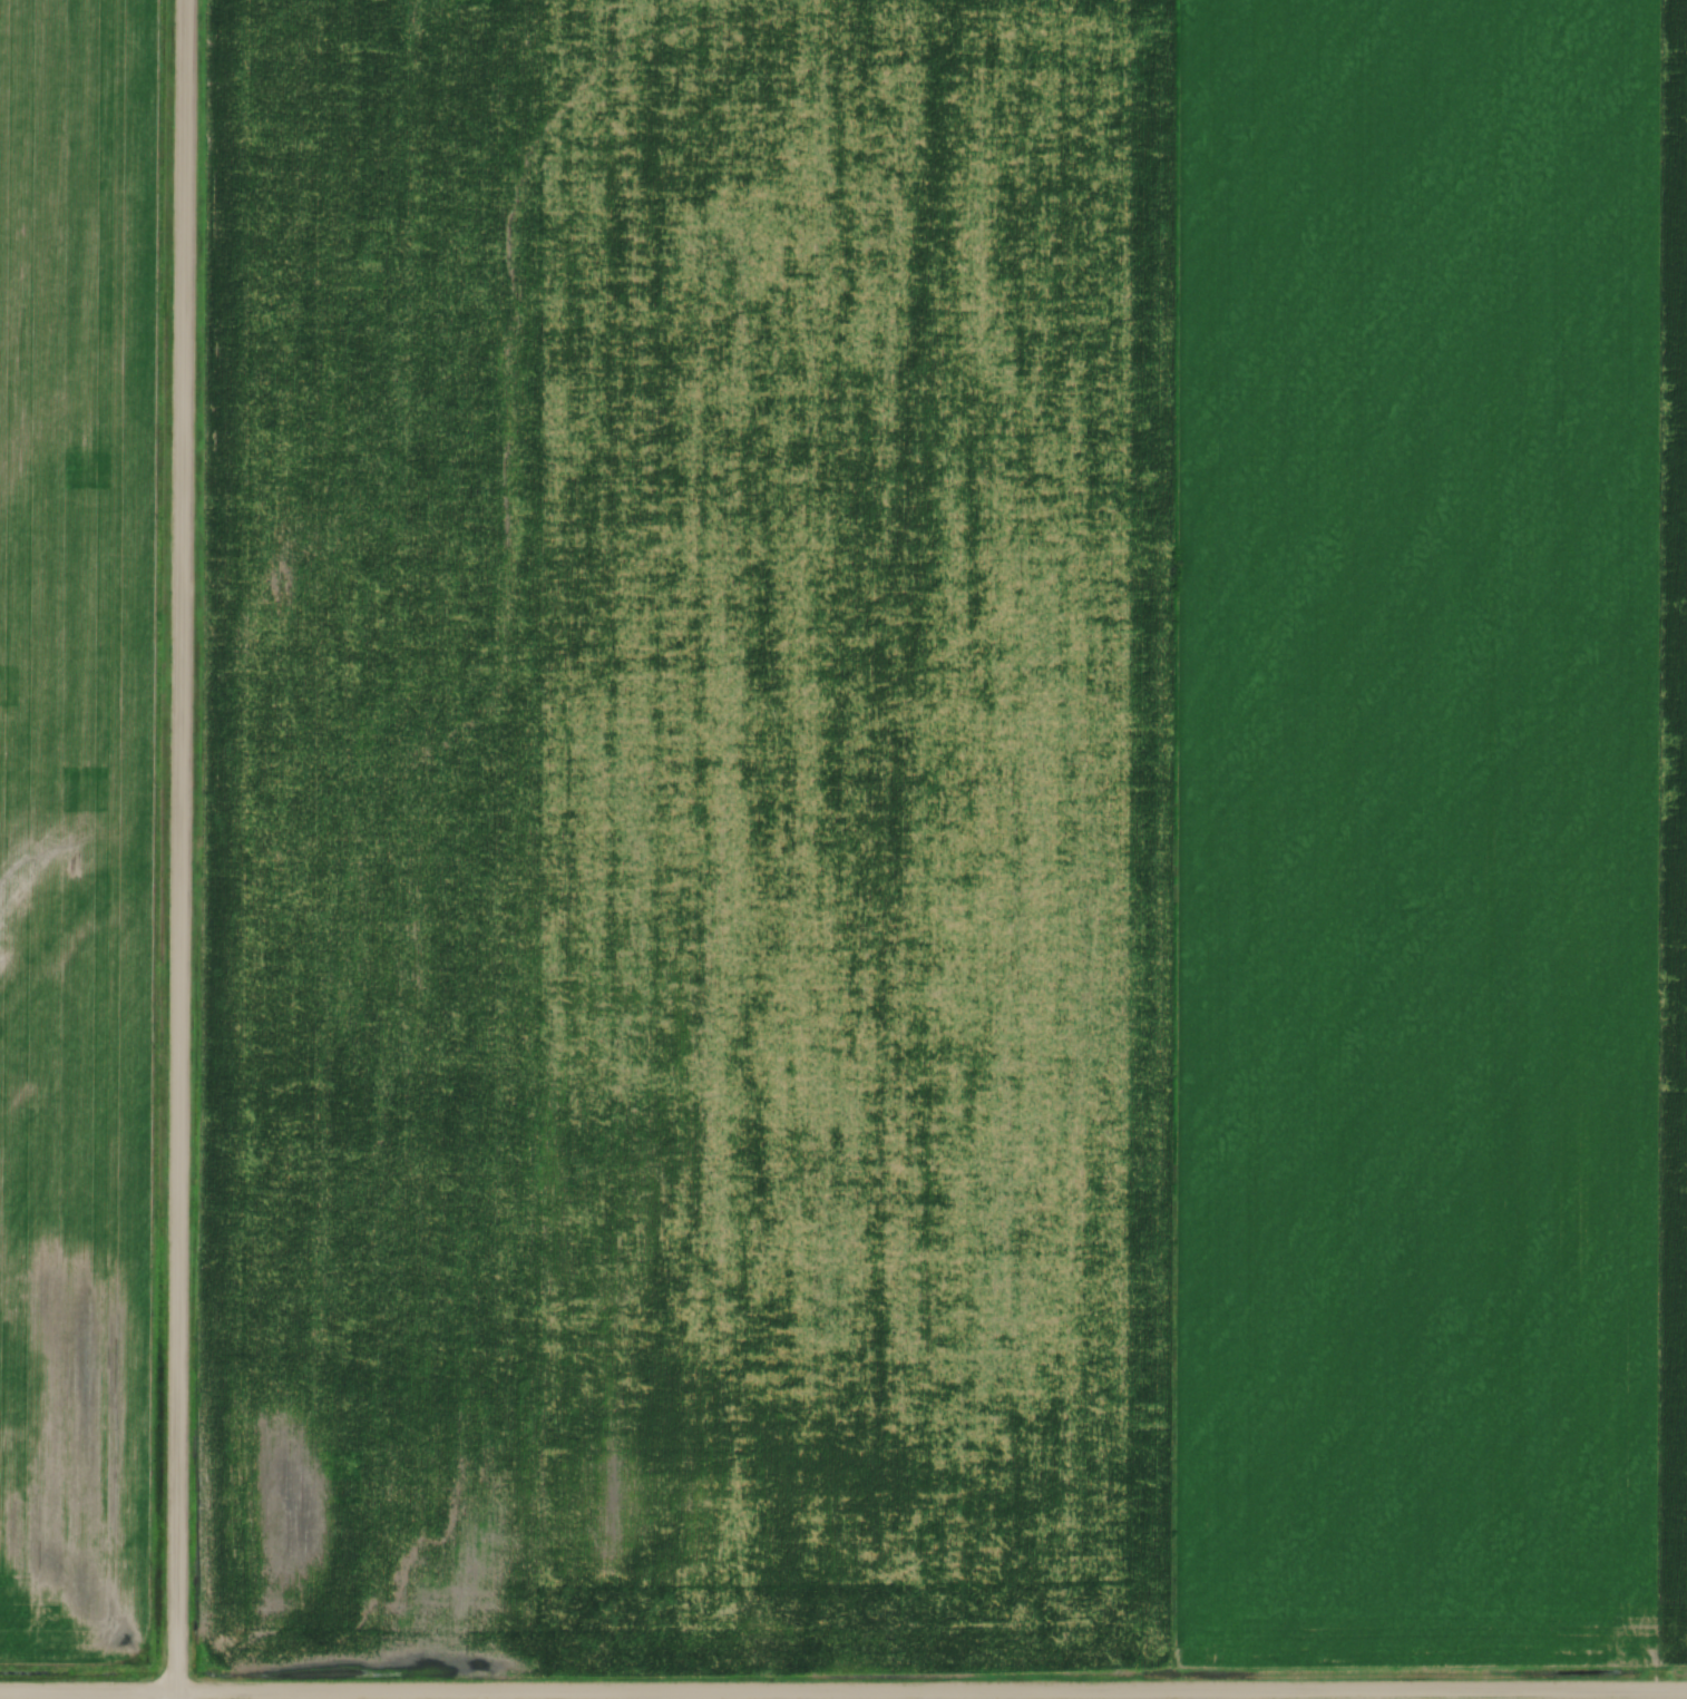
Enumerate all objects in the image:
road: (179, 849)
road: (843, 1688)

